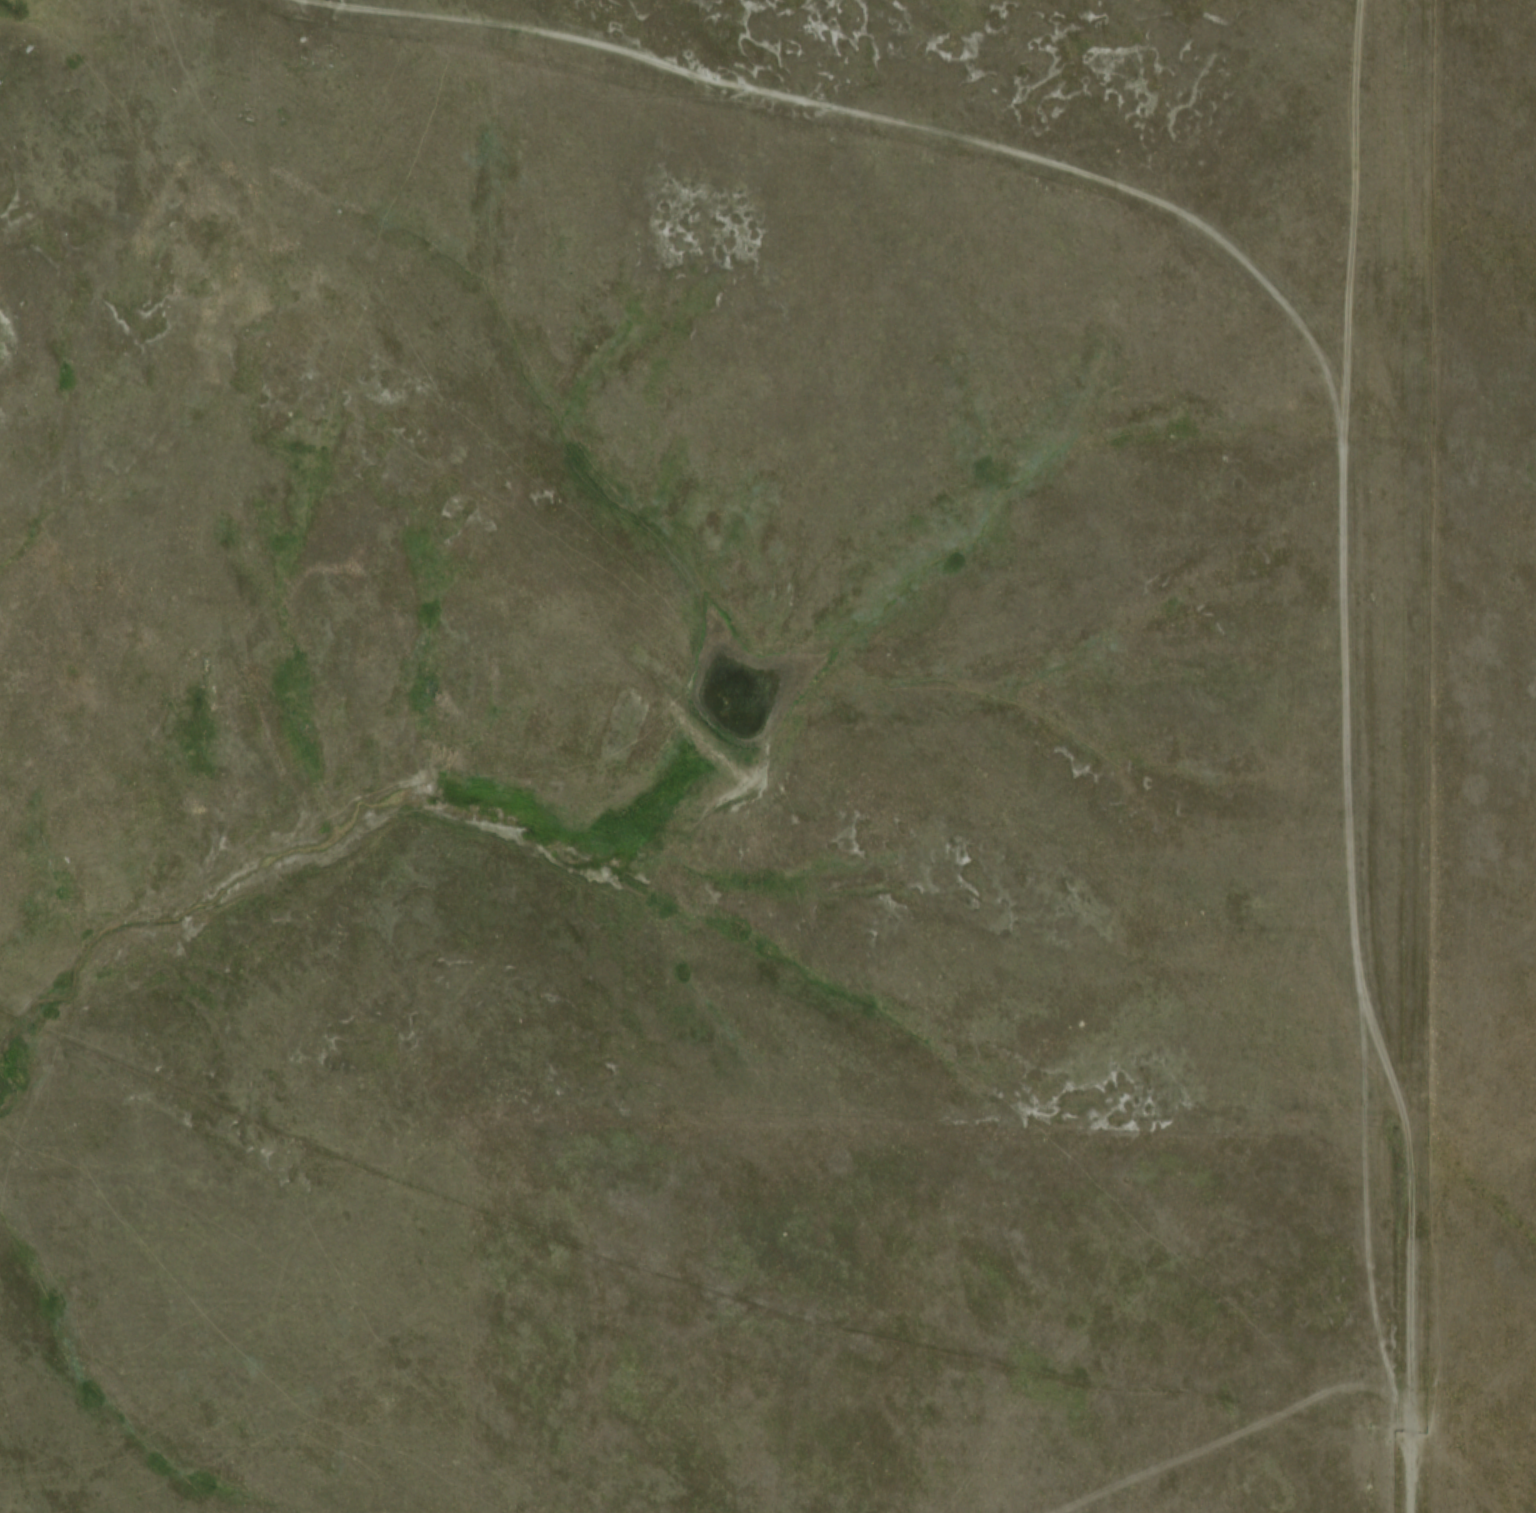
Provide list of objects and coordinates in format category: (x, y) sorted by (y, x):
road: (1409, 1332)

